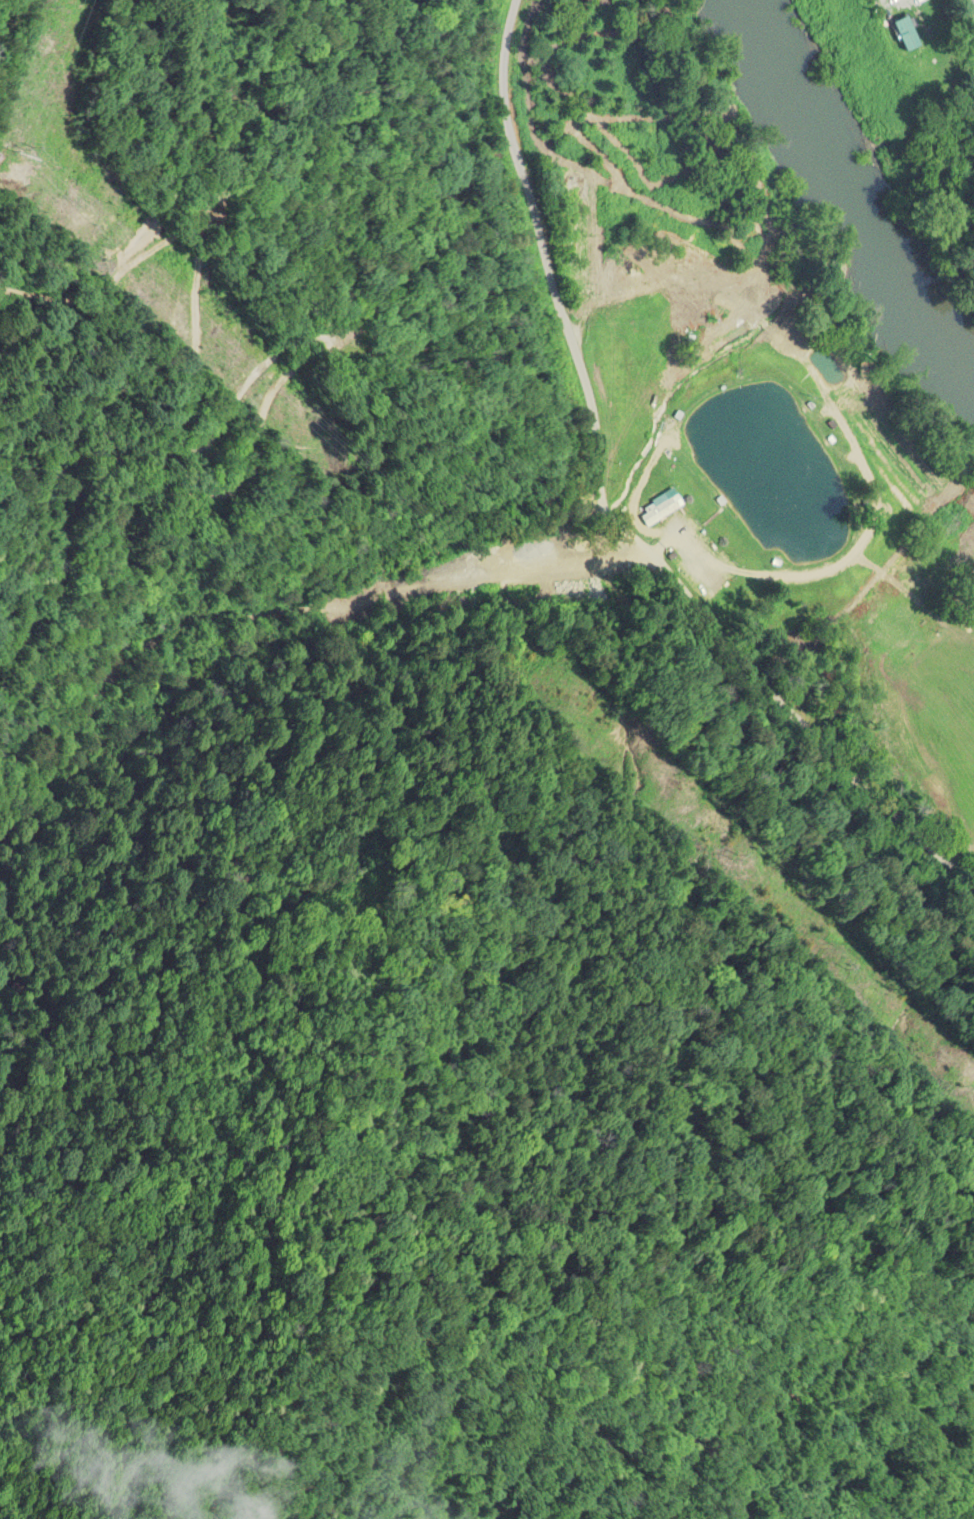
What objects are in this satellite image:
building: (909, 34)
river: (850, 177)
road: (639, 503)
building: (661, 512)

